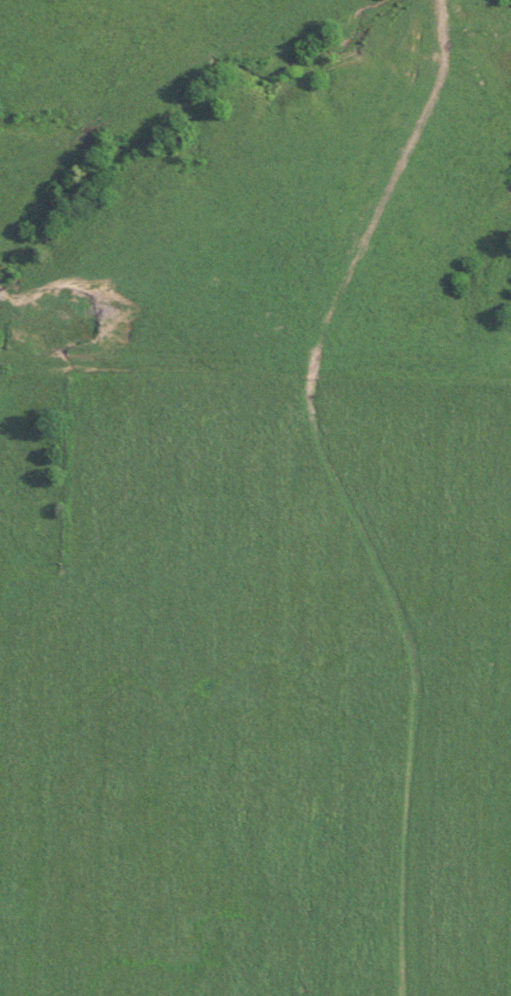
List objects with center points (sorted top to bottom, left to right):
road: (24, 345)

